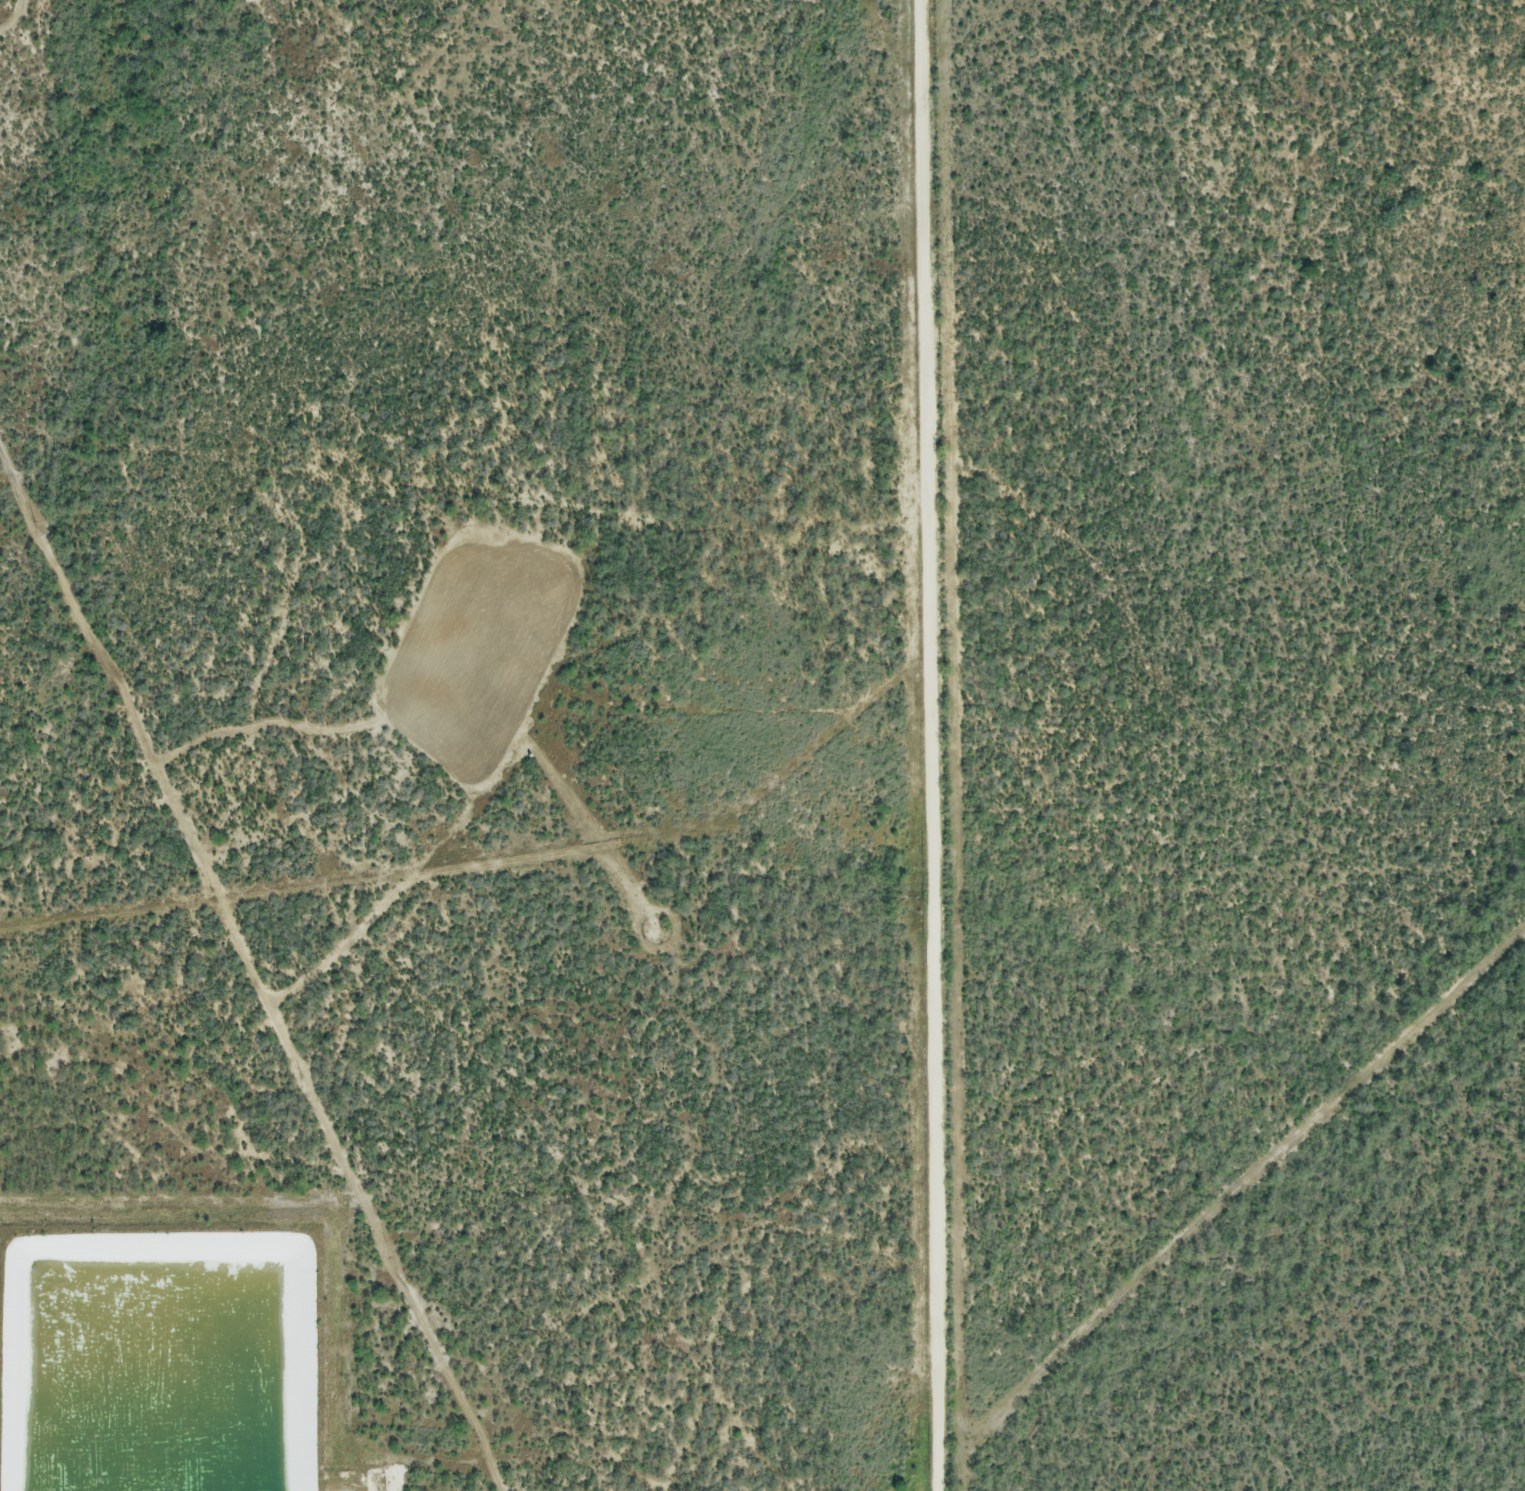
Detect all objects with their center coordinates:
road: (932, 745)

